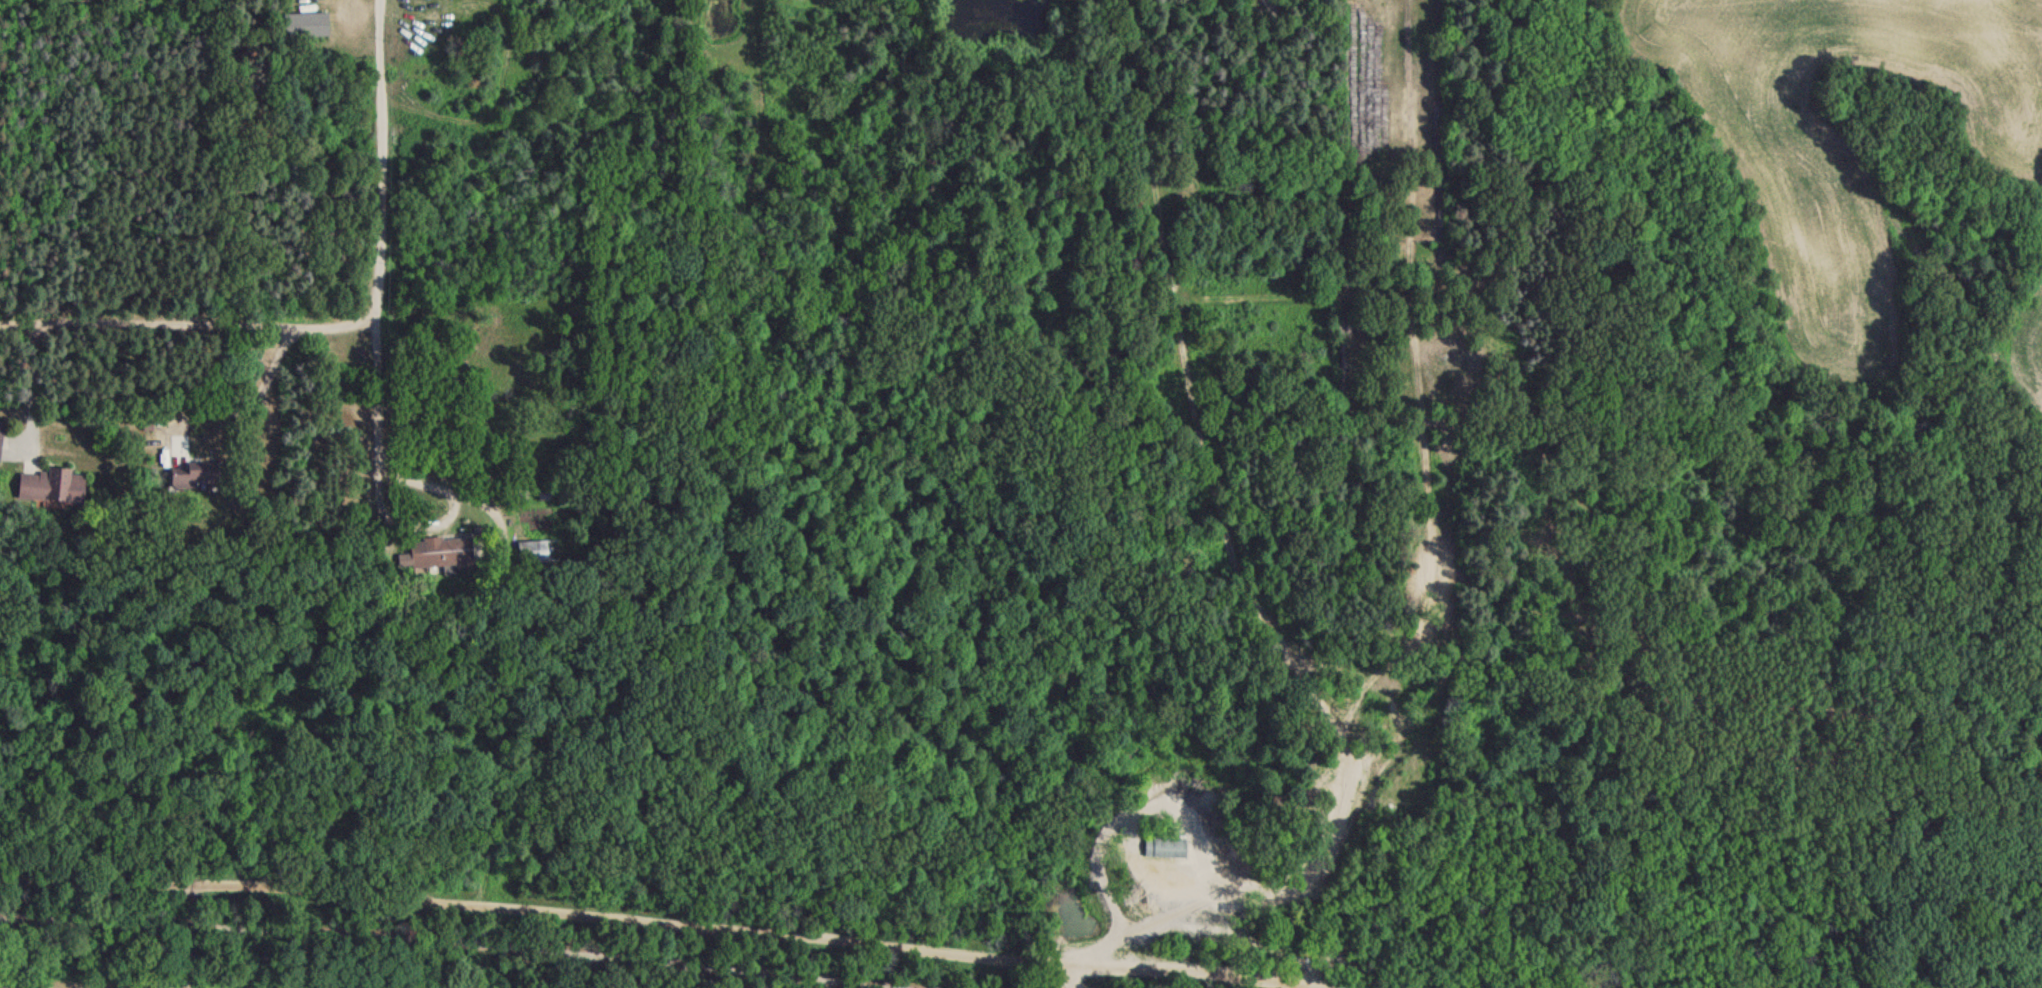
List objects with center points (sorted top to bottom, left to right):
building: (305, 29)
road: (380, 264)
road: (190, 326)
road: (31, 379)
road: (260, 395)
building: (1, 437)
building: (193, 480)
building: (50, 491)
road: (486, 511)
building: (531, 556)
building: (443, 557)
road: (1253, 607)
building: (1164, 846)
road: (682, 929)
road: (395, 950)

